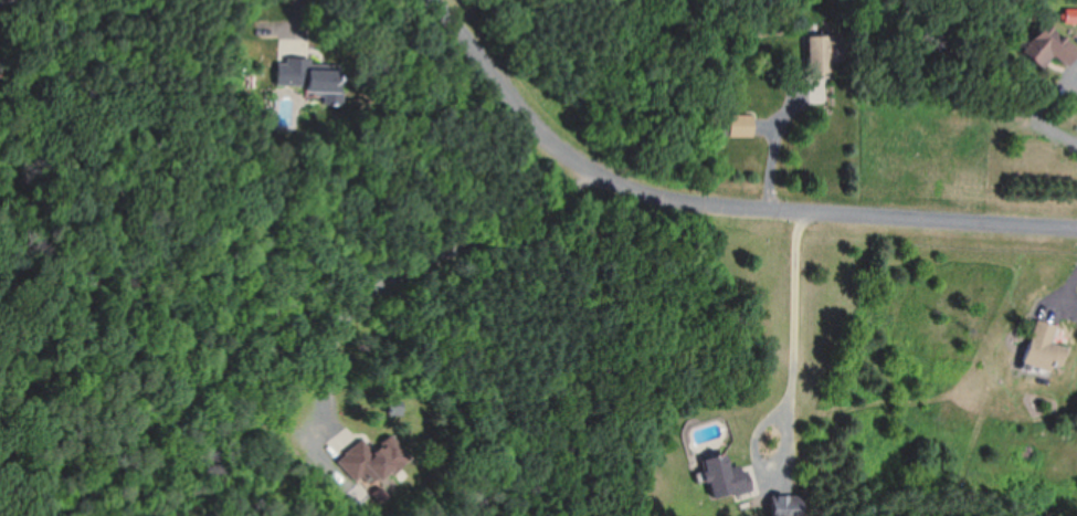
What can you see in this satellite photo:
building: (1046, 45)
building: (821, 63)
building: (0, 72)
building: (308, 77)
building: (739, 125)
road: (719, 204)
road: (422, 259)
road: (793, 327)
building: (1042, 346)
building: (379, 455)
building: (725, 475)
building: (784, 505)

